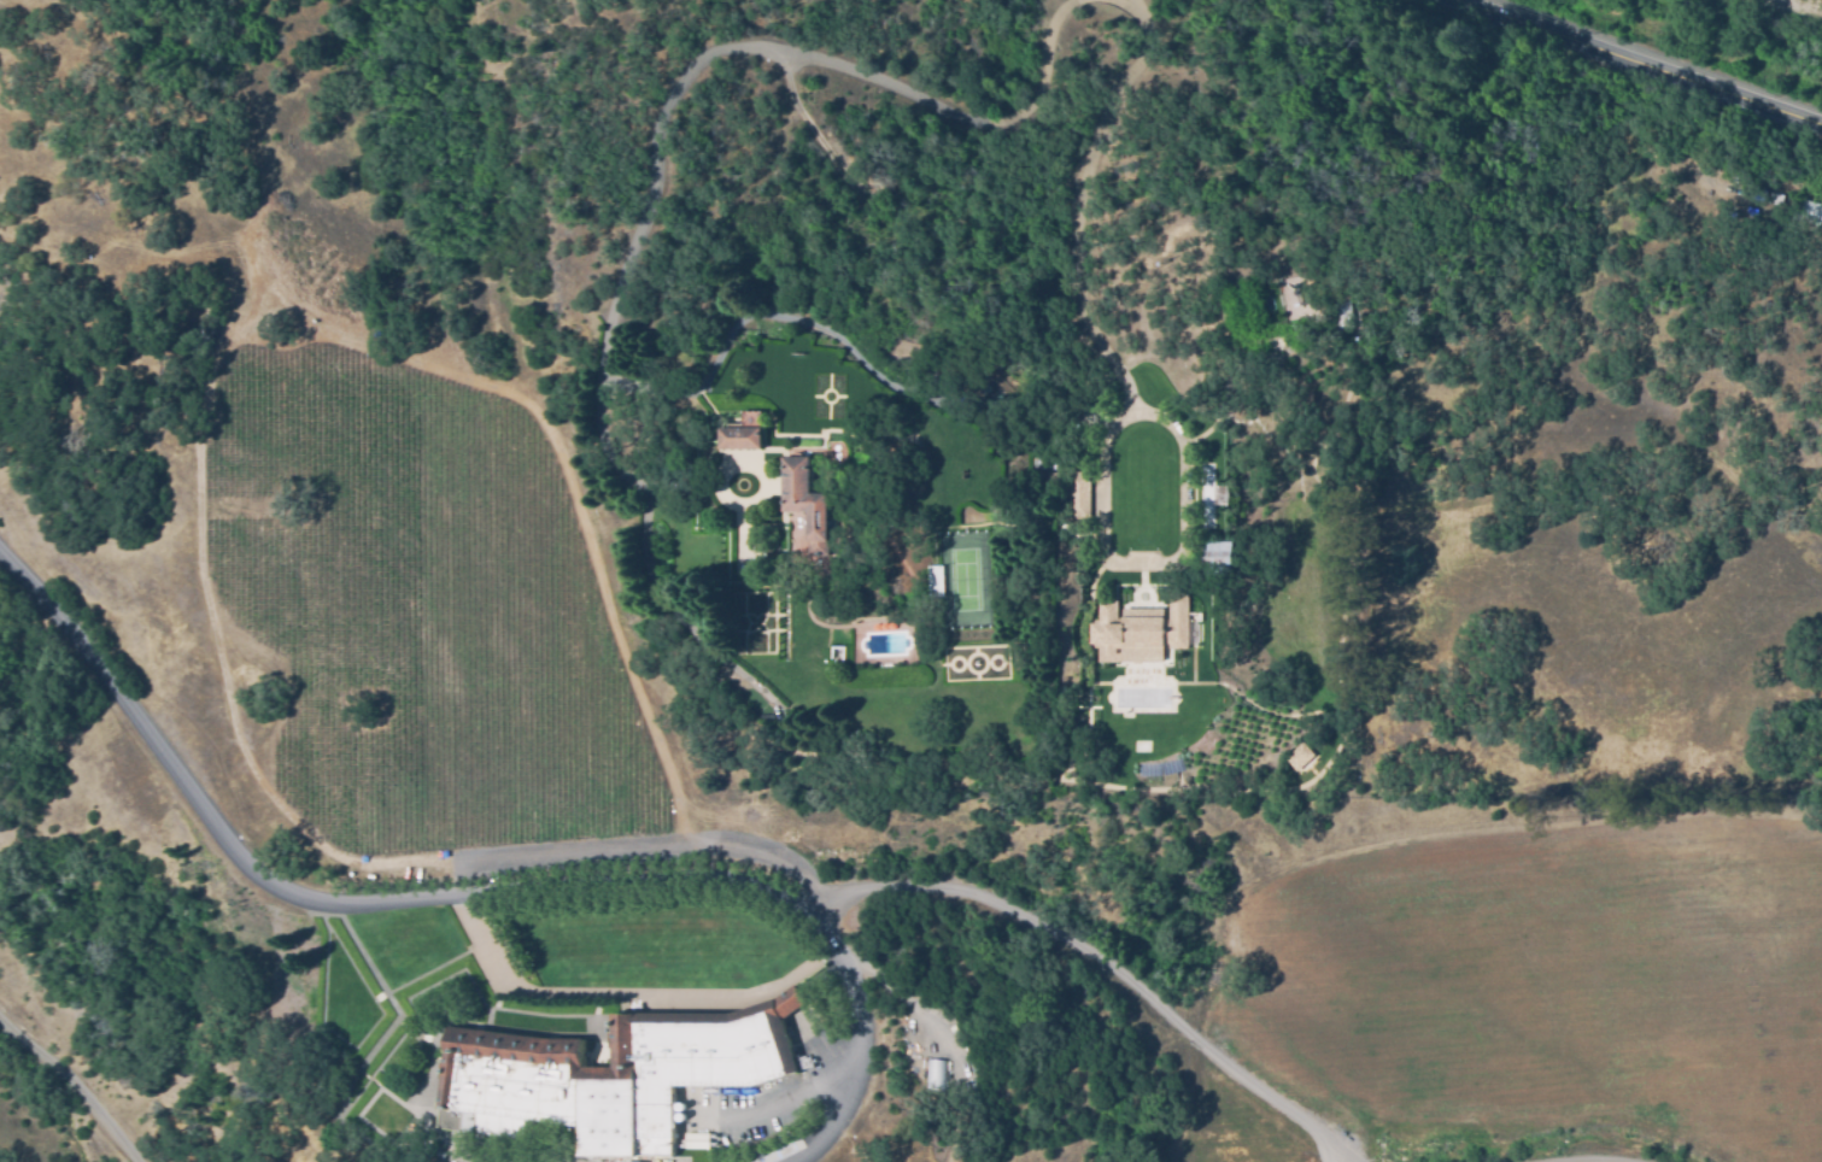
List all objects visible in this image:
road: (707, 57)
road: (1650, 63)
building: (1777, 200)
building: (1747, 211)
building: (1810, 213)
building: (1287, 300)
building: (1342, 316)
building: (739, 438)
building: (1032, 460)
building: (1033, 475)
building: (1048, 476)
road: (691, 486)
building: (1074, 493)
building: (1218, 494)
building: (805, 506)
building: (1215, 556)
building: (933, 581)
building: (1138, 632)
building: (1299, 756)
road: (537, 890)
building: (908, 1045)
road: (856, 1049)
building: (930, 1074)
building: (611, 1075)
road: (76, 1082)
road: (1270, 1093)
building: (697, 1139)

